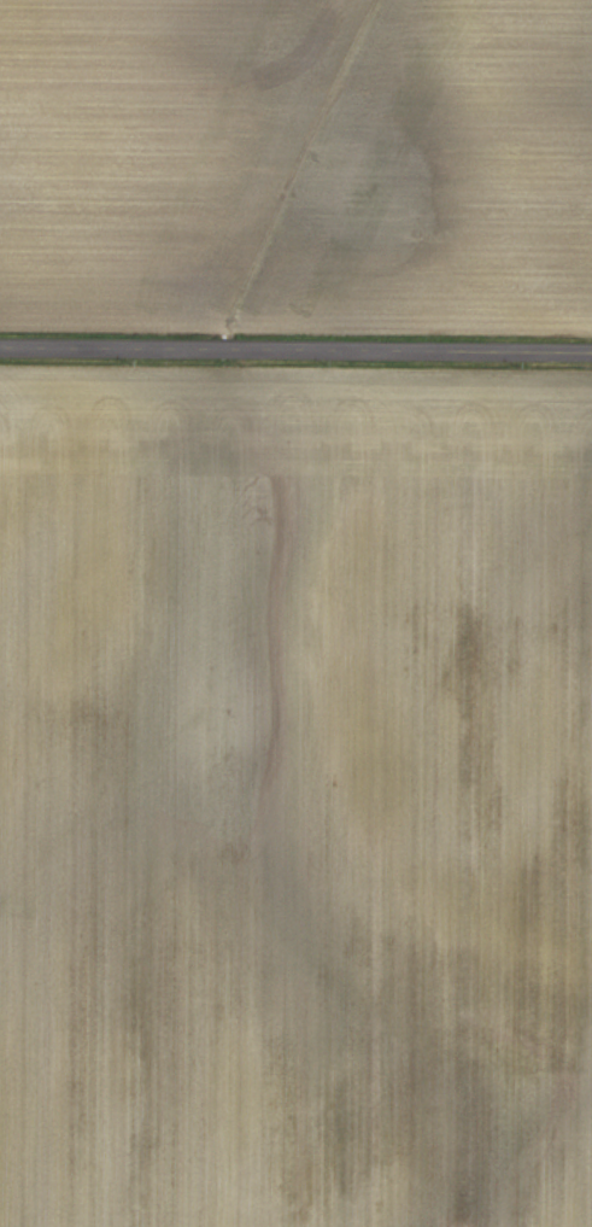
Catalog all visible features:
road: (295, 355)

